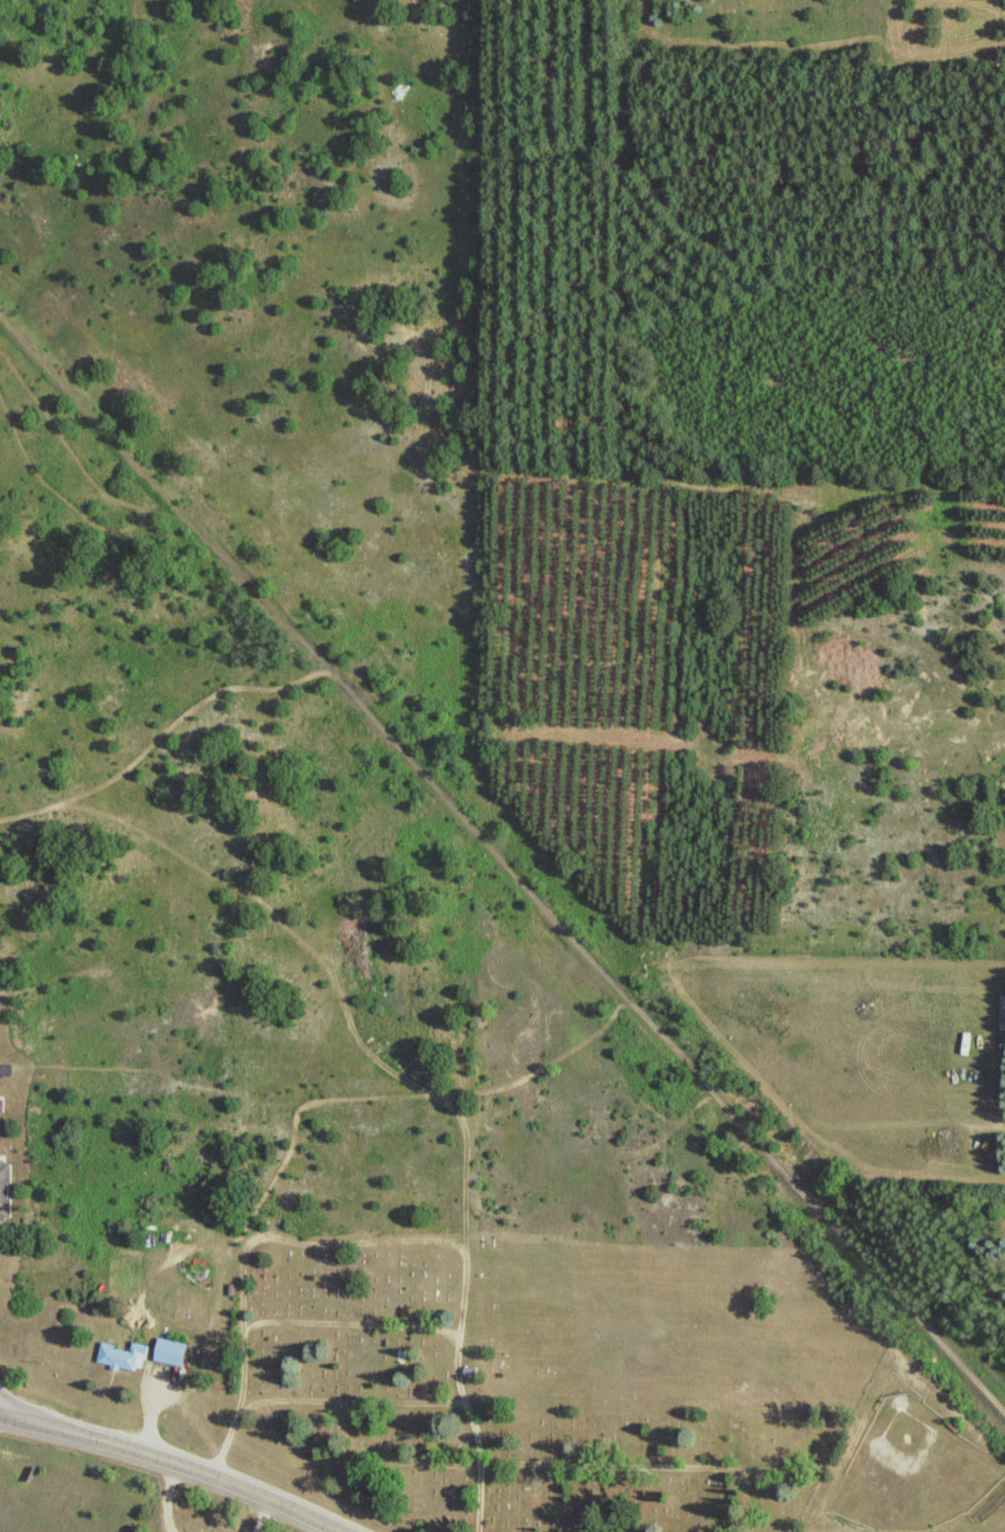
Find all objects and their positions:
road: (502, 864)
building: (1002, 1008)
road: (3, 1069)
building: (1, 1104)
building: (5, 1189)
building: (172, 1352)
building: (125, 1356)
road: (379, 1401)
park: (470, 1404)
road: (92, 1443)
park: (913, 1468)
road: (262, 1497)

